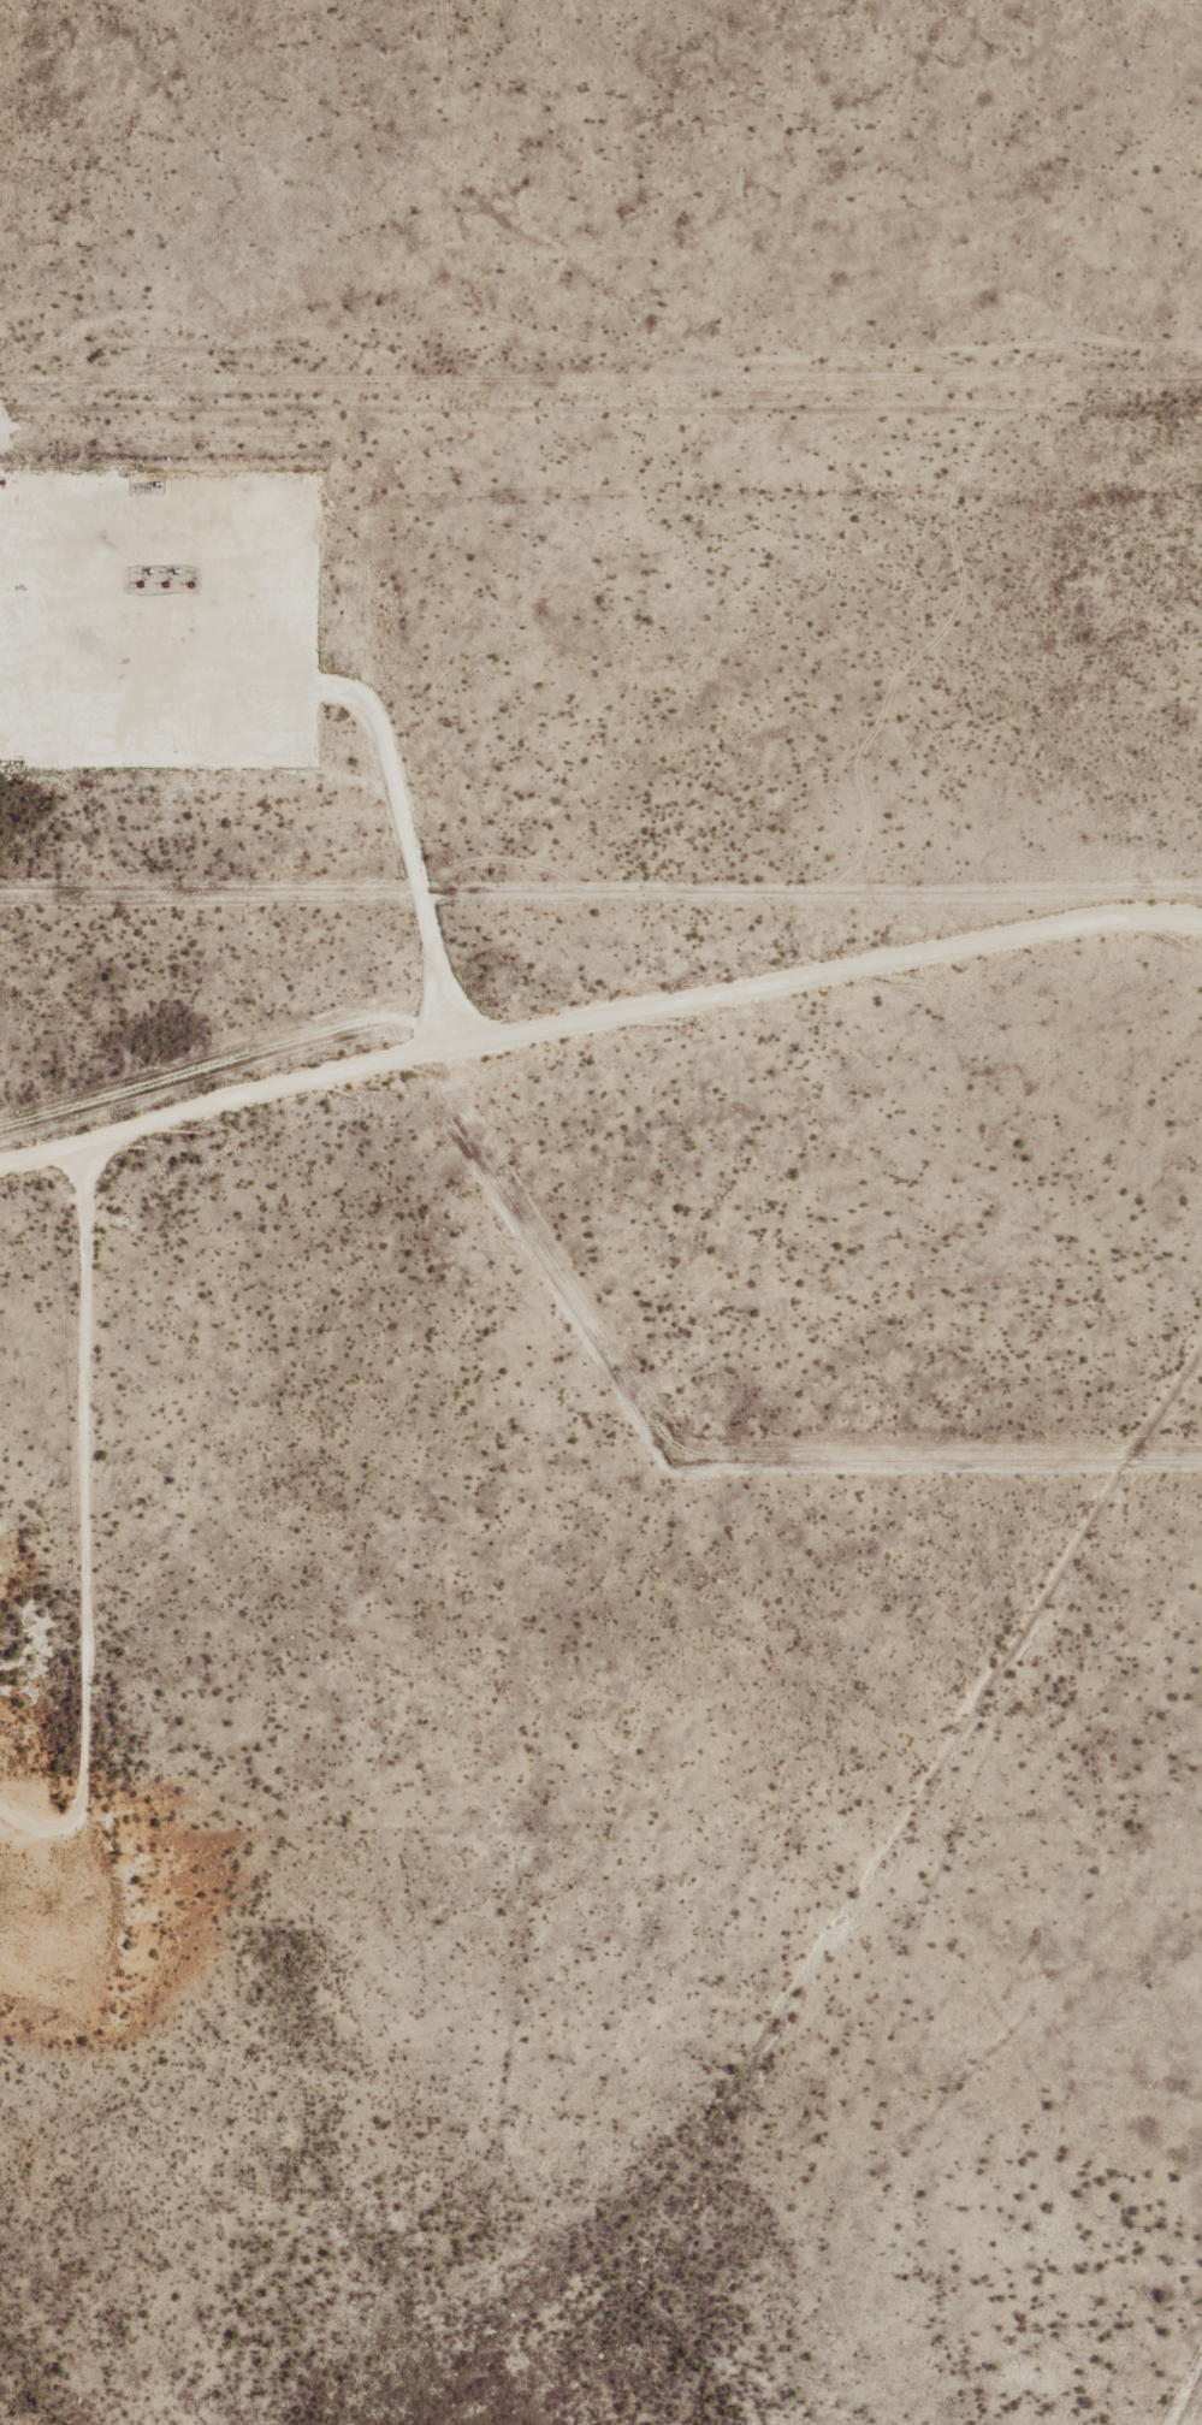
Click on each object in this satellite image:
petroleum well: (138, 584)
petroleum well: (164, 584)
petroleum well: (189, 584)
road: (359, 693)
road: (597, 1011)
road: (87, 1490)

